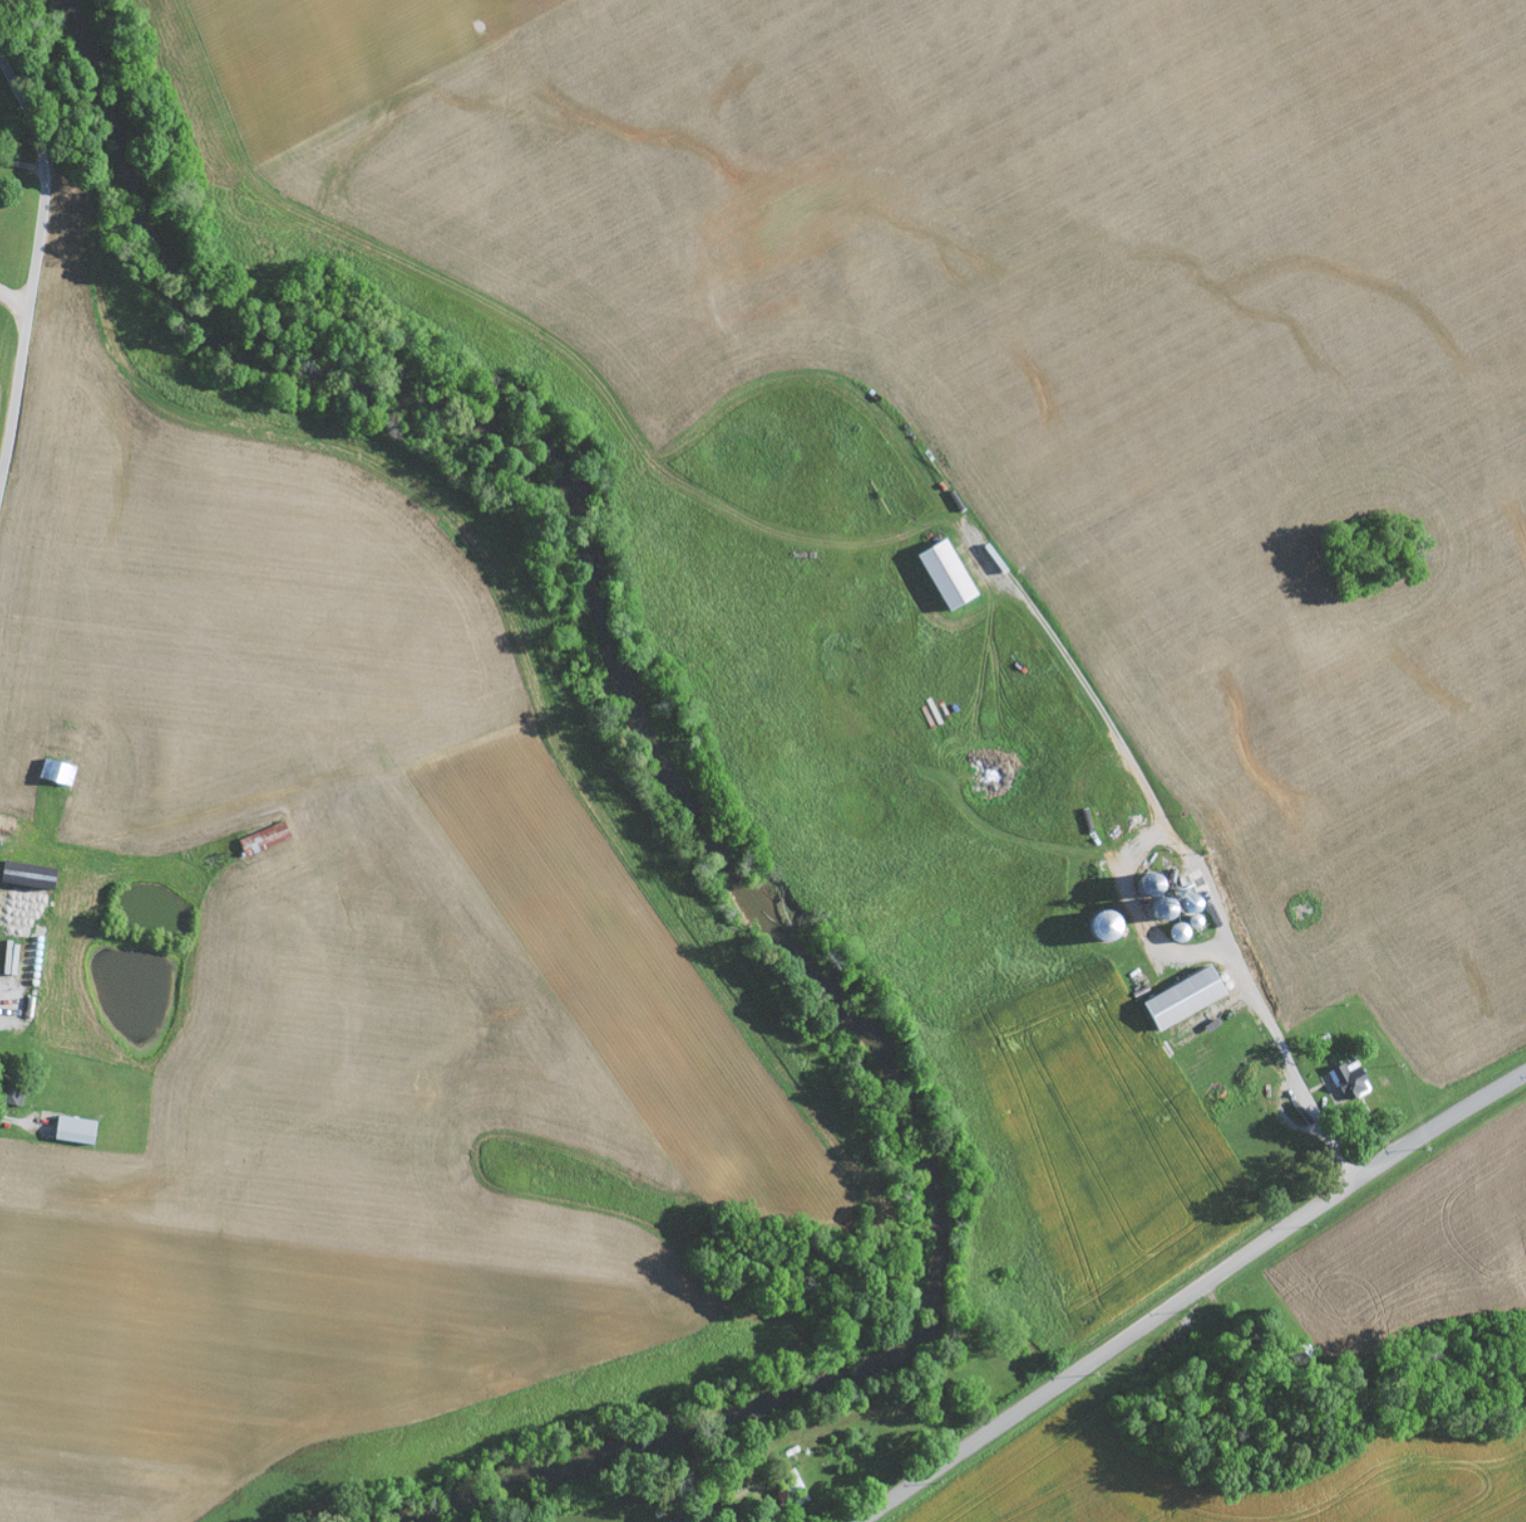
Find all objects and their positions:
road: (35, 264)
road: (1393, 273)
road: (13, 311)
park: (1373, 550)
building: (951, 576)
building: (60, 773)
building: (267, 839)
building: (36, 878)
building: (1188, 999)
building: (1346, 1083)
building: (79, 1131)
road: (1188, 1292)

